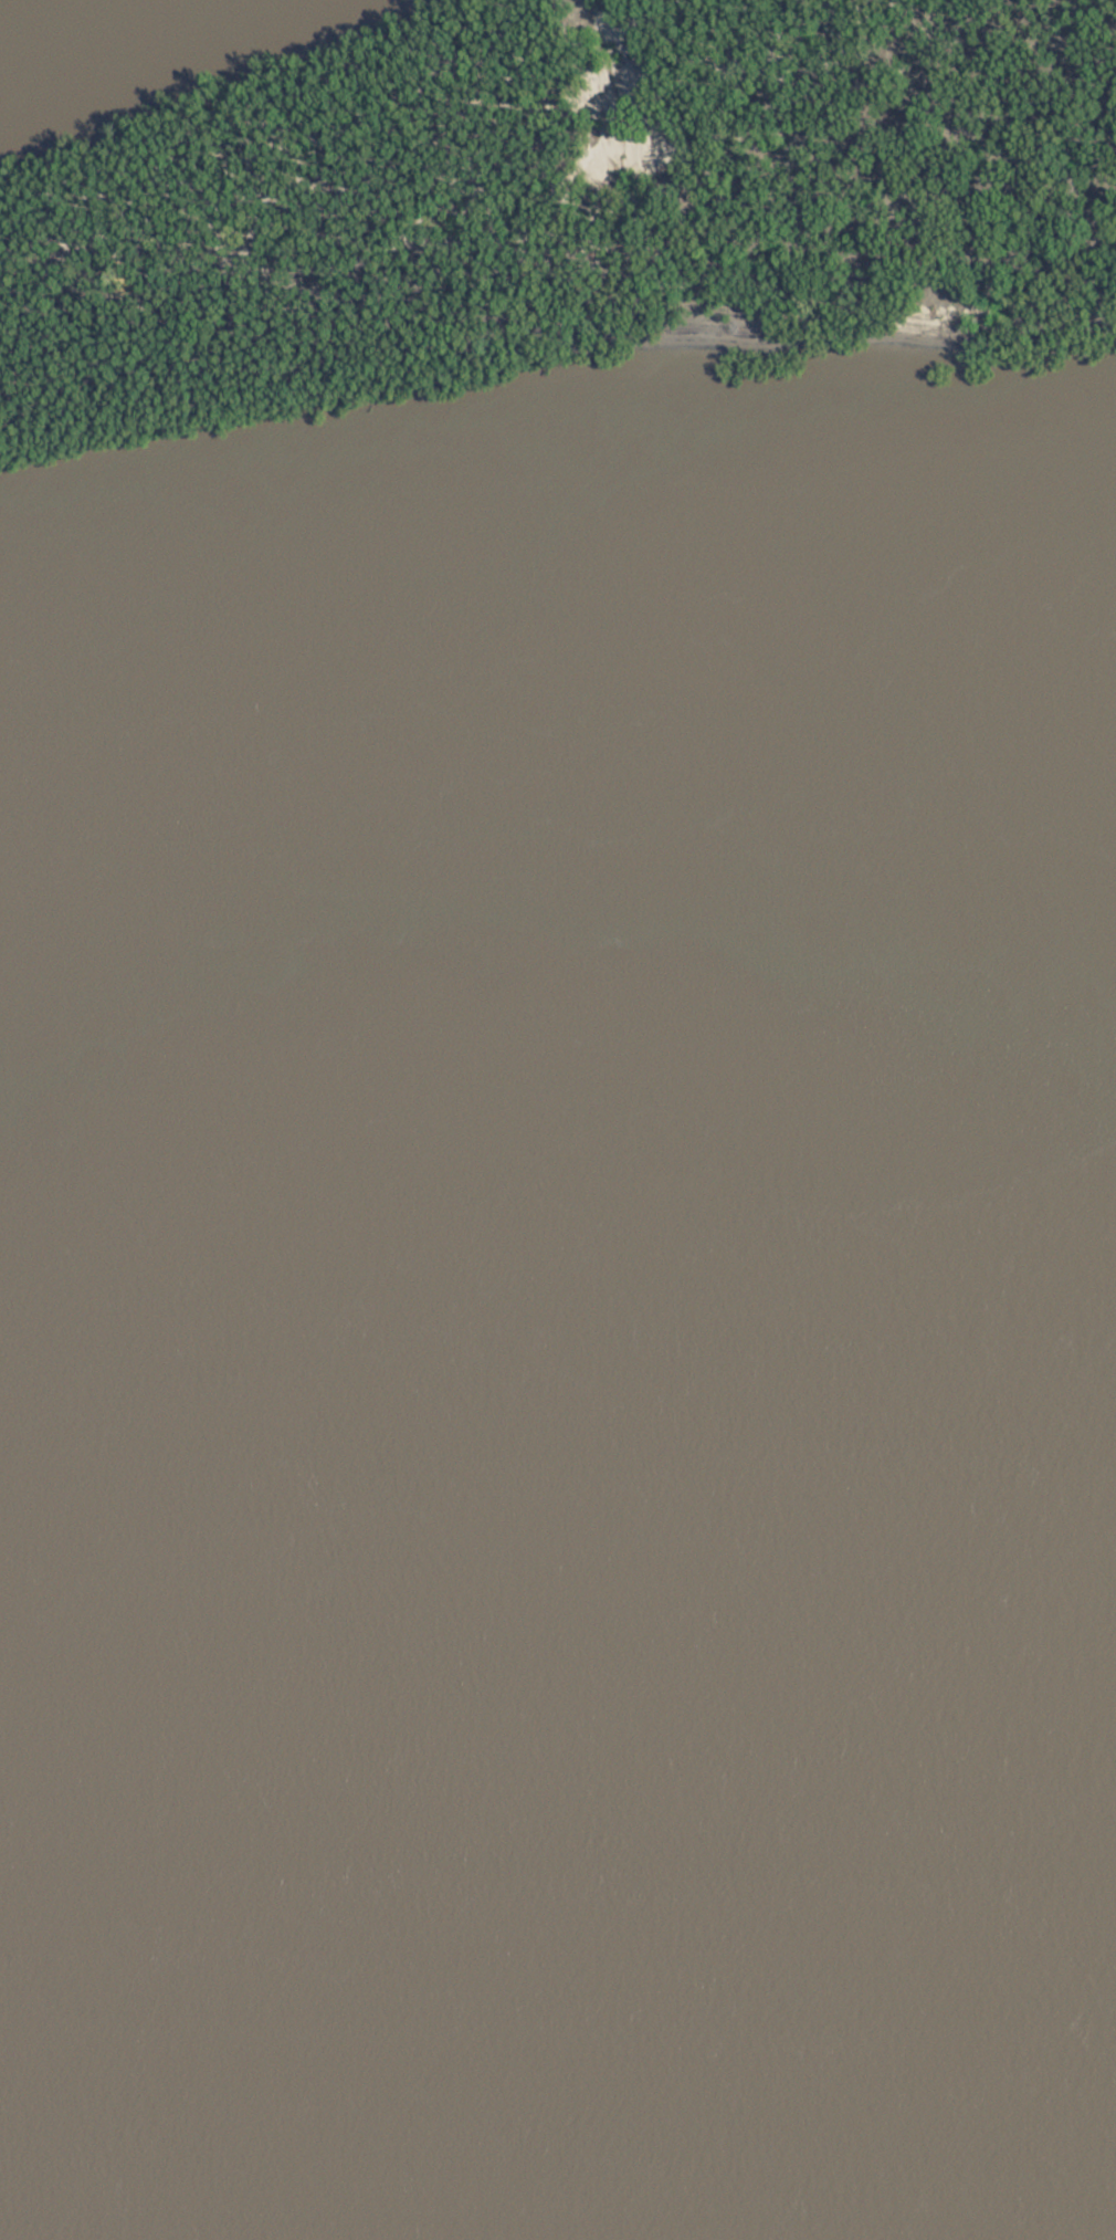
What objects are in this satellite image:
river: (558, 2042)

